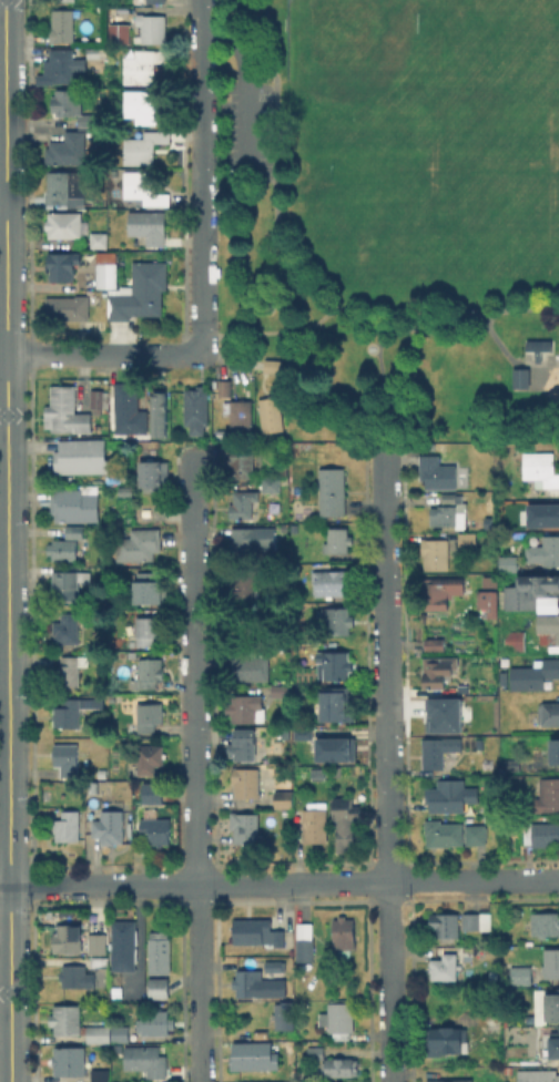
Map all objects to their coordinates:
building: (62, 0)
building: (151, 1)
building: (62, 25)
building: (152, 28)
building: (119, 32)
park: (477, 48)
building: (92, 51)
building: (62, 64)
building: (142, 64)
road: (244, 84)
park: (388, 89)
building: (71, 106)
building: (143, 106)
parking lot: (245, 129)
building: (143, 146)
building: (68, 149)
park: (433, 171)
road: (202, 176)
building: (67, 187)
building: (143, 187)
road: (3, 203)
park: (392, 213)
park: (541, 217)
building: (64, 224)
building: (148, 225)
building: (99, 239)
building: (62, 265)
building: (108, 269)
road: (297, 274)
building: (141, 292)
building: (68, 307)
road: (272, 331)
building: (536, 345)
road: (104, 354)
road: (509, 358)
building: (273, 365)
building: (518, 376)
building: (225, 387)
road: (375, 390)
building: (93, 398)
building: (125, 407)
building: (65, 410)
building: (161, 411)
building: (199, 411)
building: (271, 412)
building: (241, 417)
building: (83, 457)
building: (240, 460)
building: (541, 470)
building: (437, 472)
building: (154, 473)
building: (126, 474)
building: (271, 482)
building: (122, 490)
building: (333, 491)
building: (450, 499)
building: (245, 503)
building: (74, 504)
building: (449, 516)
building: (541, 517)
building: (74, 531)
building: (465, 538)
building: (247, 540)
building: (337, 540)
road: (8, 541)
building: (139, 544)
building: (63, 549)
building: (433, 551)
building: (545, 551)
building: (508, 563)
building: (490, 580)
building: (245, 581)
building: (331, 582)
building: (65, 585)
building: (150, 588)
building: (81, 590)
building: (440, 591)
building: (531, 591)
building: (489, 600)
building: (337, 620)
building: (509, 621)
building: (67, 627)
building: (148, 629)
building: (548, 630)
building: (516, 641)
building: (435, 643)
building: (334, 664)
building: (250, 666)
building: (69, 670)
building: (439, 670)
building: (146, 673)
building: (533, 675)
building: (500, 677)
building: (279, 690)
building: (337, 703)
building: (246, 708)
building: (70, 711)
building: (440, 713)
building: (549, 713)
building: (149, 715)
building: (295, 735)
building: (479, 743)
building: (244, 745)
building: (440, 751)
building: (325, 752)
building: (555, 753)
building: (67, 757)
building: (150, 757)
road: (387, 765)
building: (511, 765)
road: (196, 766)
building: (245, 782)
building: (152, 792)
building: (548, 795)
building: (284, 799)
building: (443, 799)
building: (338, 806)
building: (315, 821)
building: (68, 824)
building: (106, 824)
building: (245, 827)
building: (156, 829)
building: (443, 833)
building: (345, 834)
building: (476, 834)
building: (541, 834)
road: (278, 882)
building: (477, 920)
building: (445, 923)
building: (545, 923)
building: (257, 931)
building: (94, 932)
building: (343, 935)
building: (68, 937)
building: (304, 941)
building: (121, 942)
building: (160, 950)
building: (469, 950)
building: (551, 962)
building: (272, 966)
building: (444, 967)
building: (521, 973)
building: (75, 976)
building: (255, 983)
building: (159, 989)
building: (550, 1006)
building: (283, 1014)
building: (338, 1019)
building: (155, 1022)
building: (78, 1023)
building: (119, 1032)
building: (446, 1040)
building: (553, 1043)
building: (315, 1051)
building: (254, 1055)
building: (70, 1060)
building: (145, 1060)
building: (341, 1065)
building: (100, 1074)
building: (538, 1074)
building: (451, 1080)

